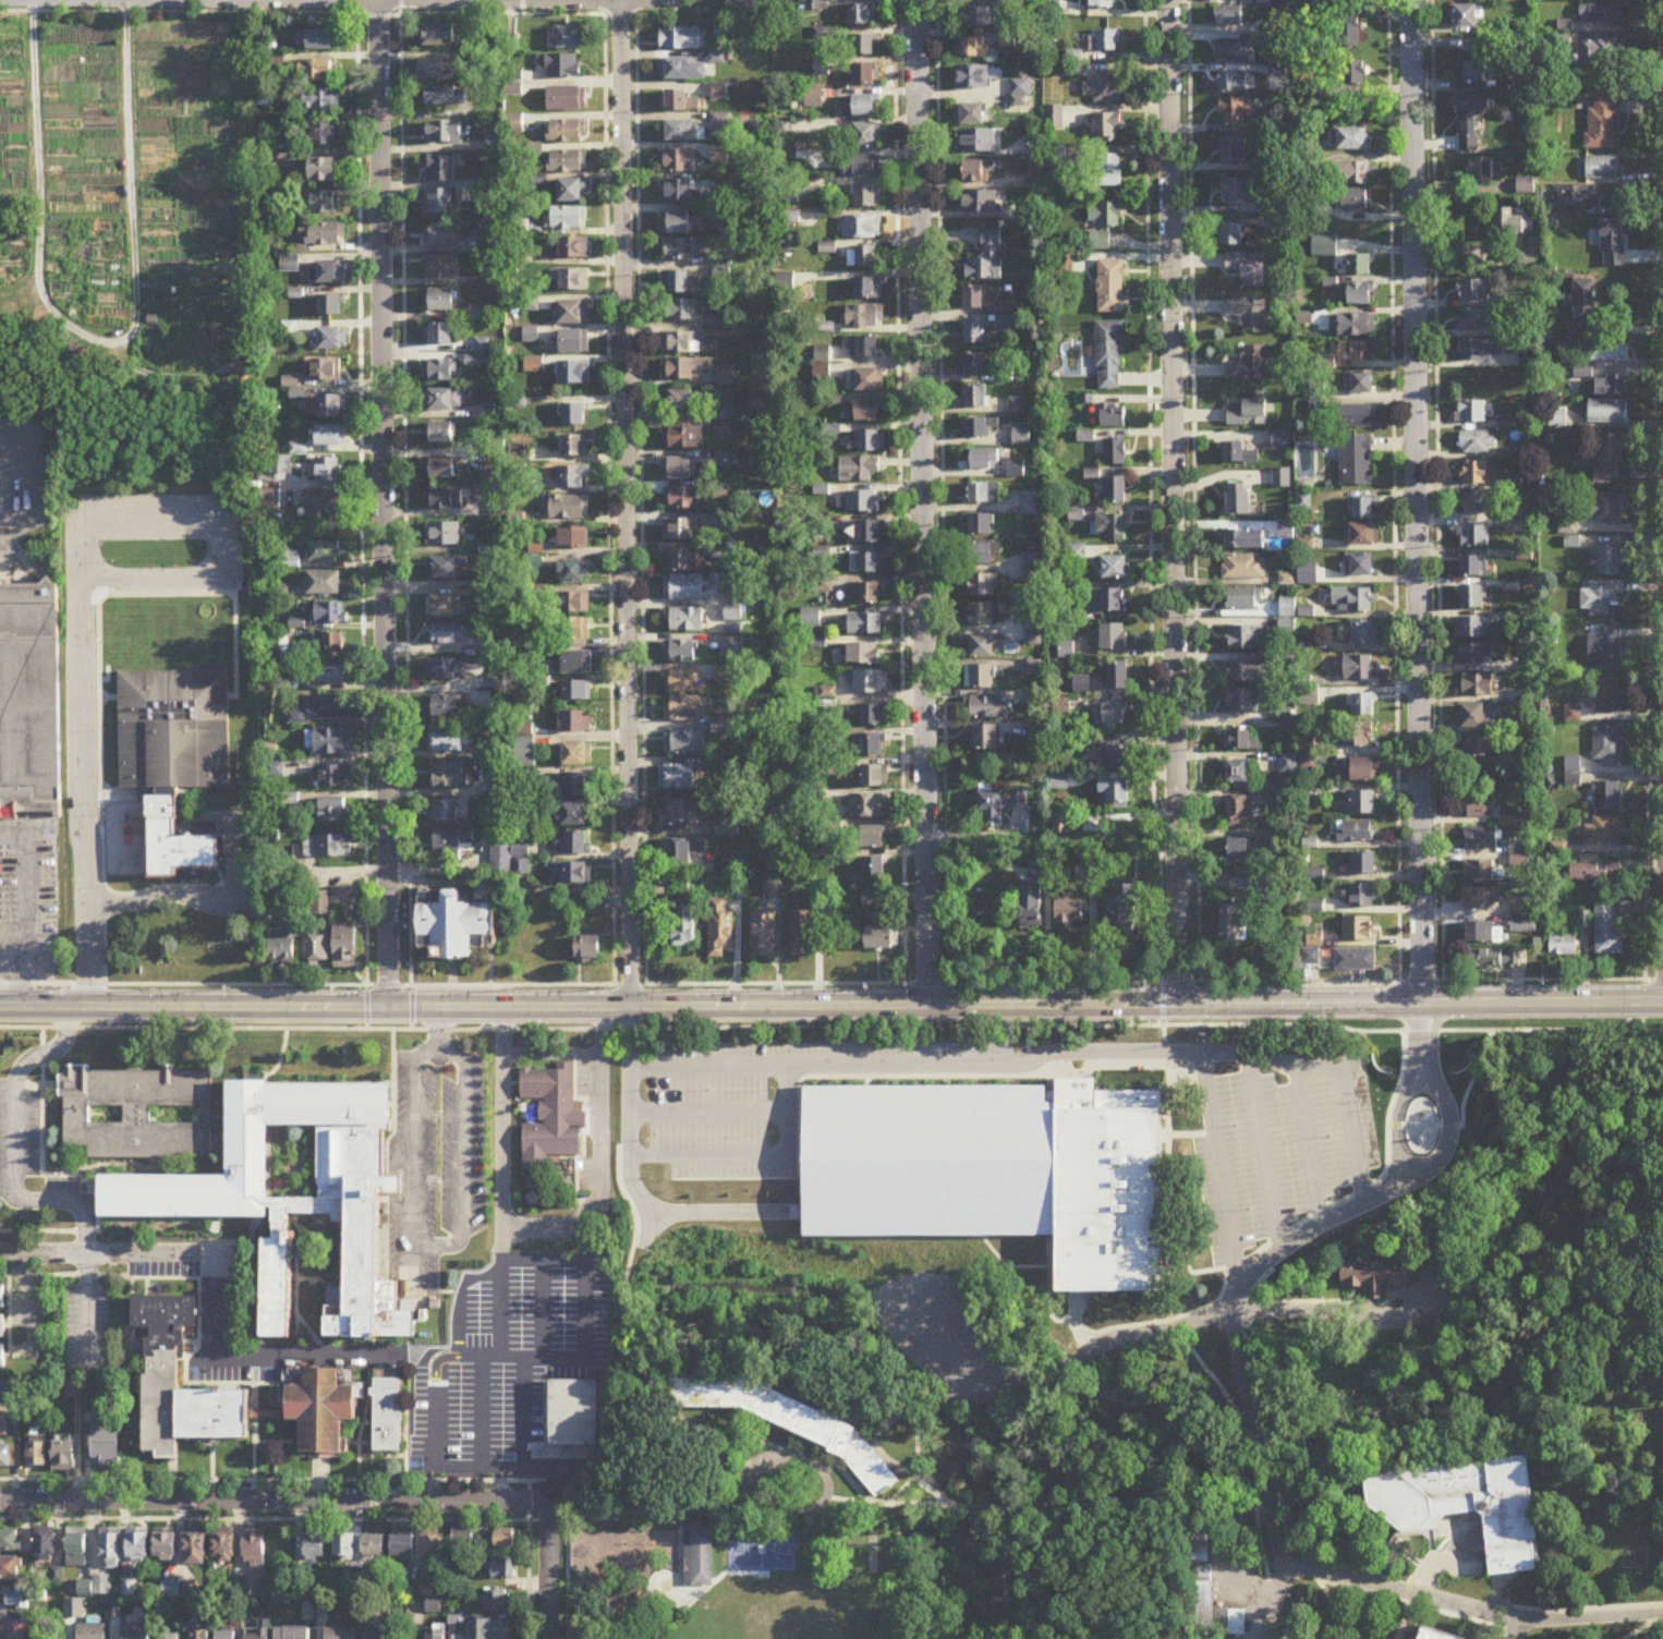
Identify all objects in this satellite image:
building: (1102, 4)
road: (521, 8)
building: (745, 8)
road: (178, 13)
building: (860, 14)
building: (1601, 14)
road: (547, 15)
building: (1466, 15)
road: (377, 16)
building: (1228, 16)
building: (978, 17)
building: (441, 36)
building: (1348, 36)
building: (570, 39)
building: (681, 39)
building: (323, 40)
building: (1103, 41)
building: (1562, 43)
building: (865, 45)
building: (972, 48)
building: (1600, 50)
building: (1233, 51)
building: (559, 66)
building: (1478, 66)
building: (437, 69)
building: (682, 69)
building: (316, 71)
building: (1351, 71)
building: (863, 74)
building: (971, 77)
building: (1233, 82)
building: (1105, 88)
building: (445, 97)
building: (321, 100)
building: (567, 100)
building: (678, 102)
building: (861, 106)
building: (1237, 113)
building: (970, 114)
building: (1053, 118)
building: (1469, 121)
building: (1604, 124)
building: (1106, 129)
building: (567, 132)
building: (683, 132)
building: (440, 134)
building: (326, 135)
building: (867, 136)
building: (1352, 139)
building: (974, 141)
building: (1233, 151)
building: (1055, 155)
building: (567, 162)
building: (678, 162)
building: (860, 167)
building: (1603, 168)
building: (1482, 169)
building: (439, 170)
building: (323, 171)
building: (1108, 171)
building: (978, 172)
building: (1354, 174)
building: (1525, 187)
building: (572, 192)
building: (677, 192)
building: (1235, 193)
building: (1582, 196)
building: (866, 197)
building: (976, 202)
building: (438, 203)
building: (325, 204)
building: (1355, 205)
building: (570, 219)
building: (676, 223)
building: (1103, 224)
building: (1509, 224)
building: (861, 228)
building: (324, 235)
building: (442, 235)
building: (1233, 235)
building: (1613, 244)
building: (574, 250)
building: (678, 251)
building: (988, 256)
building: (862, 257)
building: (1360, 266)
building: (438, 268)
building: (1248, 269)
building: (327, 272)
building: (570, 281)
building: (682, 284)
building: (1112, 287)
building: (869, 289)
building: (1471, 291)
building: (1360, 294)
building: (978, 299)
building: (439, 302)
building: (330, 307)
building: (680, 312)
building: (573, 314)
building: (1247, 315)
building: (864, 317)
building: (1471, 321)
building: (1357, 326)
road: (100, 328)
building: (975, 333)
building: (438, 336)
building: (331, 339)
building: (573, 343)
building: (680, 344)
building: (862, 348)
building: (1480, 350)
building: (1606, 350)
building: (1361, 352)
building: (1108, 356)
building: (976, 364)
building: (1568, 364)
building: (1248, 366)
building: (327, 371)
building: (682, 371)
building: (438, 372)
building: (572, 374)
building: (864, 381)
building: (1360, 384)
building: (1612, 386)
building: (976, 397)
building: (442, 401)
building: (679, 402)
building: (1016, 405)
building: (332, 406)
building: (1249, 411)
building: (869, 412)
building: (1607, 412)
building: (1470, 414)
building: (573, 416)
building: (1113, 416)
building: (1358, 417)
building: (1557, 420)
building: (978, 428)
building: (442, 434)
building: (1020, 435)
building: (331, 436)
building: (683, 439)
building: (871, 442)
building: (1477, 444)
building: (575, 447)
building: (299, 450)
building: (1114, 452)
building: (1238, 454)
building: (1609, 457)
building: (985, 460)
building: (1356, 461)
building: (440, 469)
building: (678, 470)
building: (328, 471)
building: (858, 471)
building: (1477, 474)
road: (17, 478)
building: (573, 478)
building: (1117, 490)
road: (1192, 490)
road: (608, 491)
road: (898, 491)
road: (942, 491)
building: (983, 494)
building: (680, 499)
building: (270, 500)
building: (447, 500)
road: (641, 500)
building: (1238, 500)
building: (325, 501)
building: (861, 502)
road: (1173, 502)
road: (1415, 502)
road: (624, 503)
road: (923, 503)
building: (1031, 503)
road: (383, 505)
building: (1477, 505)
building: (569, 508)
building: (1363, 509)
building: (1610, 509)
road: (361, 515)
road: (405, 515)
road: (219, 520)
building: (982, 525)
building: (1113, 525)
road: (1149, 525)
building: (1567, 525)
building: (679, 531)
building: (870, 533)
building: (444, 535)
building: (1361, 535)
building: (1472, 535)
building: (573, 539)
building: (1245, 539)
parking lot: (151, 544)
building: (324, 553)
building: (983, 554)
building: (678, 561)
building: (1607, 561)
building: (865, 563)
building: (1359, 566)
building: (445, 568)
building: (1112, 568)
building: (1243, 568)
building: (1473, 568)
building: (573, 572)
building: (1308, 574)
building: (325, 584)
building: (983, 586)
building: (684, 588)
building: (863, 594)
building: (1473, 598)
building: (1603, 598)
building: (1242, 599)
building: (1352, 600)
building: (1108, 602)
building: (573, 604)
building: (441, 606)
building: (330, 614)
building: (733, 614)
building: (982, 616)
building: (687, 621)
building: (864, 624)
building: (1472, 628)
building: (575, 631)
building: (448, 634)
building: (1364, 634)
building: (1114, 638)
building: (1247, 638)
building: (333, 644)
building: (986, 646)
building: (731, 647)
building: (1611, 649)
building: (1066, 651)
building: (680, 652)
building: (862, 655)
building: (1472, 655)
building: (576, 664)
building: (1360, 668)
building: (446, 669)
building: (1247, 672)
building: (330, 675)
building: (728, 675)
building: (1118, 676)
building: (980, 678)
building: (680, 681)
building: (870, 682)
building: (1082, 684)
building: (1477, 687)
building: (575, 692)
building: (1609, 696)
building: (29, 702)
building: (1242, 702)
building: (1032, 704)
building: (1363, 705)
building: (332, 708)
building: (447, 708)
building: (984, 708)
building: (685, 711)
building: (872, 716)
building: (1114, 716)
building: (1476, 716)
building: (575, 724)
building: (1359, 736)
building: (986, 740)
building: (1242, 741)
building: (450, 742)
building: (332, 743)
building: (685, 744)
building: (872, 746)
building: (1484, 746)
building: (1607, 746)
building: (576, 755)
building: (173, 758)
building: (1117, 760)
building: (1287, 765)
building: (1364, 770)
building: (1237, 775)
building: (453, 776)
building: (335, 777)
building: (875, 777)
building: (677, 778)
building: (576, 786)
road: (86, 793)
building: (1118, 794)
building: (1606, 798)
building: (1000, 802)
building: (1360, 804)
building: (867, 806)
building: (1479, 808)
building: (331, 812)
building: (444, 812)
building: (1240, 813)
building: (679, 815)
building: (575, 816)
road: (247, 822)
building: (1355, 833)
building: (1603, 833)
building: (866, 839)
building: (1480, 839)
building: (576, 845)
building: (452, 846)
building: (327, 848)
building: (1240, 850)
building: (679, 854)
road: (980, 854)
parking lot: (240, 864)
building: (1359, 864)
building: (1479, 872)
building: (1594, 872)
building: (871, 873)
building: (576, 875)
building: (1241, 882)
road: (26, 897)
road: (159, 897)
building: (344, 897)
building: (1361, 897)
parking lot: (28, 899)
building: (871, 899)
building: (1482, 900)
building: (582, 905)
building: (1031, 909)
building: (1122, 910)
building: (1070, 912)
building: (1521, 918)
building: (1229, 923)
building: (685, 926)
building: (719, 927)
building: (459, 930)
building: (1358, 930)
building: (1607, 930)
building: (803, 933)
building: (1484, 934)
building: (764, 935)
building: (882, 939)
building: (1564, 947)
building: (284, 948)
building: (347, 949)
building: (317, 950)
building: (590, 951)
building: (1493, 959)
building: (1355, 960)
road: (19, 982)
road: (599, 986)
road: (832, 1008)
road: (832, 1028)
road: (1422, 1041)
road: (437, 1043)
road: (449, 1055)
road: (987, 1065)
parking lot: (728, 1103)
road: (707, 1110)
building: (133, 1112)
road: (499, 1116)
building: (551, 1118)
road: (1394, 1124)
road: (1448, 1125)
road: (1351, 1134)
road: (14, 1144)
road: (1307, 1144)
building: (247, 1146)
road: (1263, 1151)
road: (750, 1154)
road: (1218, 1166)
building: (978, 1174)
road: (631, 1179)
road: (595, 1190)
building: (354, 1226)
road: (648, 1228)
road: (499, 1240)
road: (435, 1245)
road: (110, 1254)
building: (1380, 1275)
building: (275, 1282)
road: (460, 1294)
building: (2, 1298)
road: (85, 1299)
parking lot: (1439, 1302)
road: (544, 1306)
road: (1320, 1310)
road: (498, 1313)
road: (1217, 1321)
building: (2, 1328)
road: (247, 1356)
road: (489, 1356)
road: (579, 1356)
building: (2, 1358)
road: (1056, 1372)
building: (161, 1384)
building: (5, 1395)
road: (432, 1399)
building: (321, 1406)
road: (478, 1411)
building: (387, 1417)
building: (786, 1419)
building: (570, 1424)
building: (8, 1426)
building: (106, 1440)
building: (37, 1457)
building: (63, 1457)
building: (7, 1458)
road: (465, 1466)
road: (356, 1479)
road: (429, 1482)
road: (500, 1482)
road: (270, 1498)
road: (1092, 1502)
building: (1468, 1502)
road: (767, 1510)
road: (274, 1518)
building: (464, 1539)
building: (506, 1539)
building: (9, 1541)
building: (138, 1545)
building: (45, 1546)
building: (166, 1546)
building: (374, 1546)
building: (223, 1547)
building: (315, 1547)
building: (344, 1547)
building: (403, 1547)
building: (195, 1549)
building: (433, 1549)
building: (110, 1550)
building: (255, 1550)
building: (76, 1551)
park: (761, 1551)
building: (699, 1556)
road: (526, 1559)
building: (9, 1567)
building: (503, 1569)
road: (547, 1571)
road: (1314, 1574)
park: (867, 1581)
building: (1206, 1589)
road: (679, 1592)
building: (24, 1599)
road: (1272, 1600)
building: (495, 1601)
road: (1474, 1610)
park: (788, 1617)
road: (1492, 1624)
road: (1647, 1625)
building: (23, 1629)
building: (488, 1629)
road: (1514, 1630)
building: (90, 1631)
building: (134, 1631)
building: (435, 1631)
building: (291, 1632)
building: (1444, 1632)
building: (255, 1634)
building: (339, 1634)
building: (198, 1635)
building: (224, 1635)
building: (169, 1636)
building: (374, 1636)

